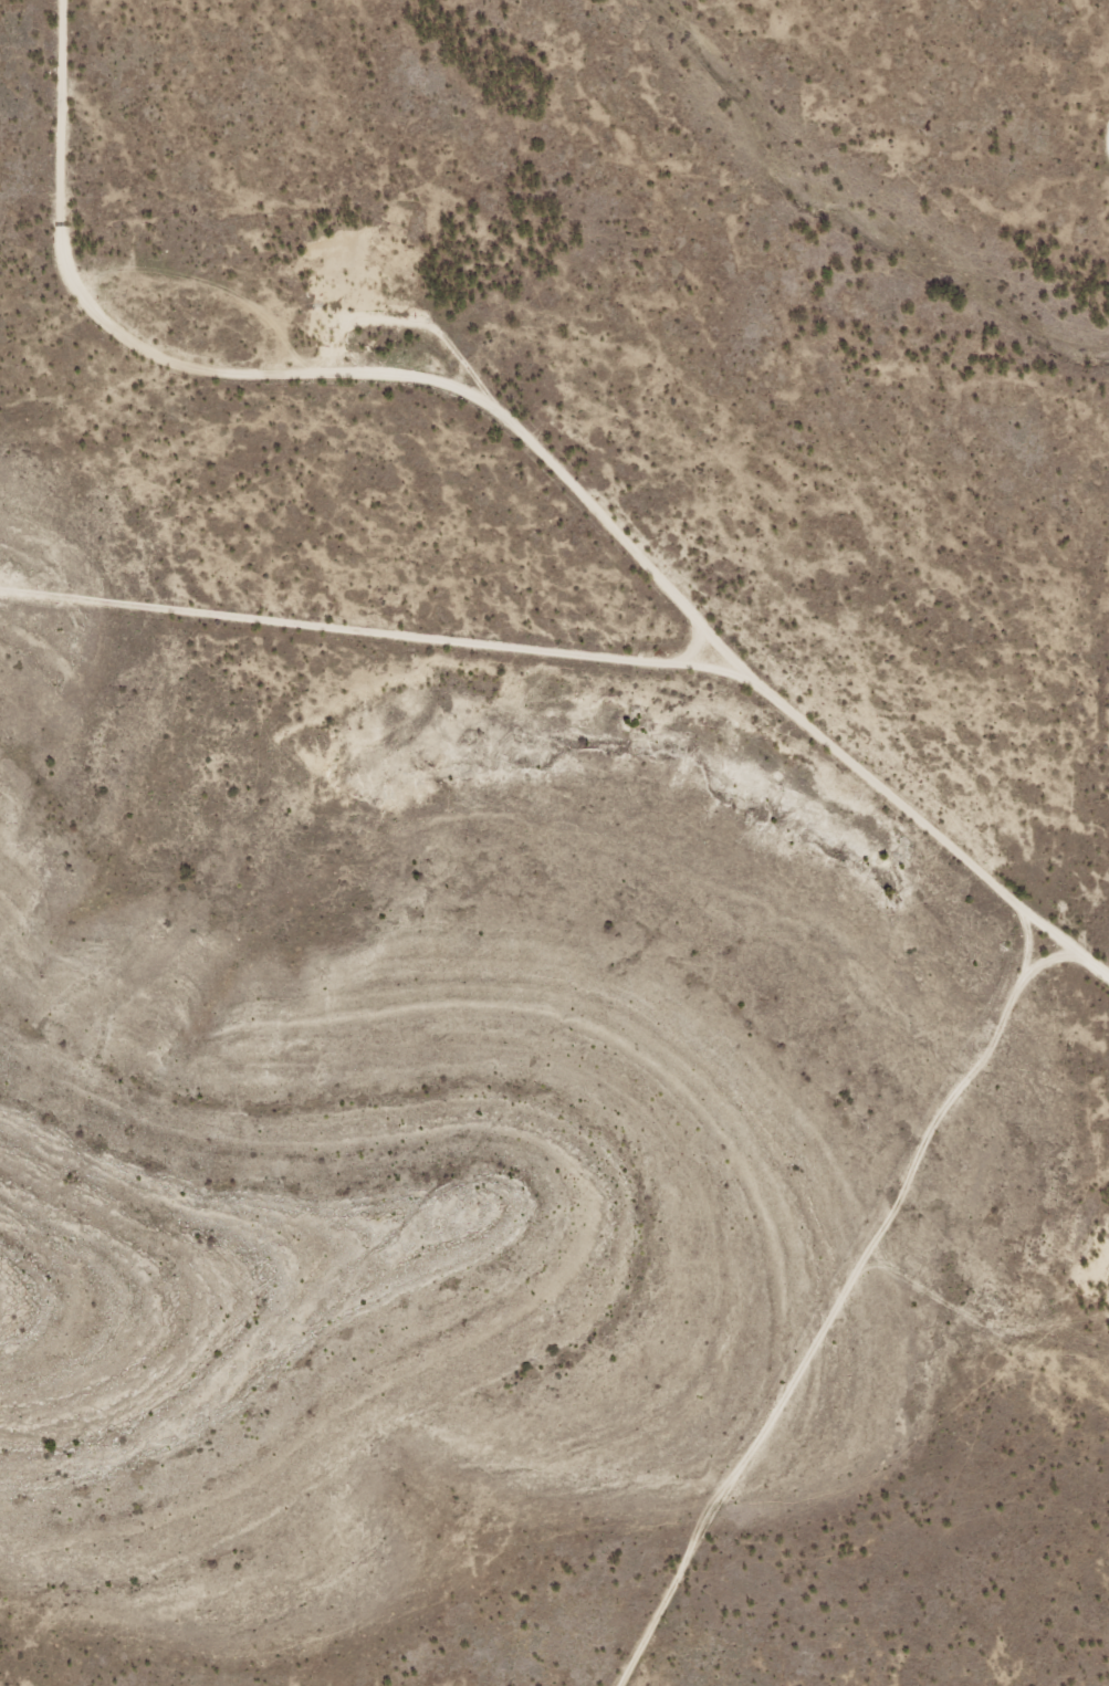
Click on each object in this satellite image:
road: (293, 368)
road: (626, 659)

